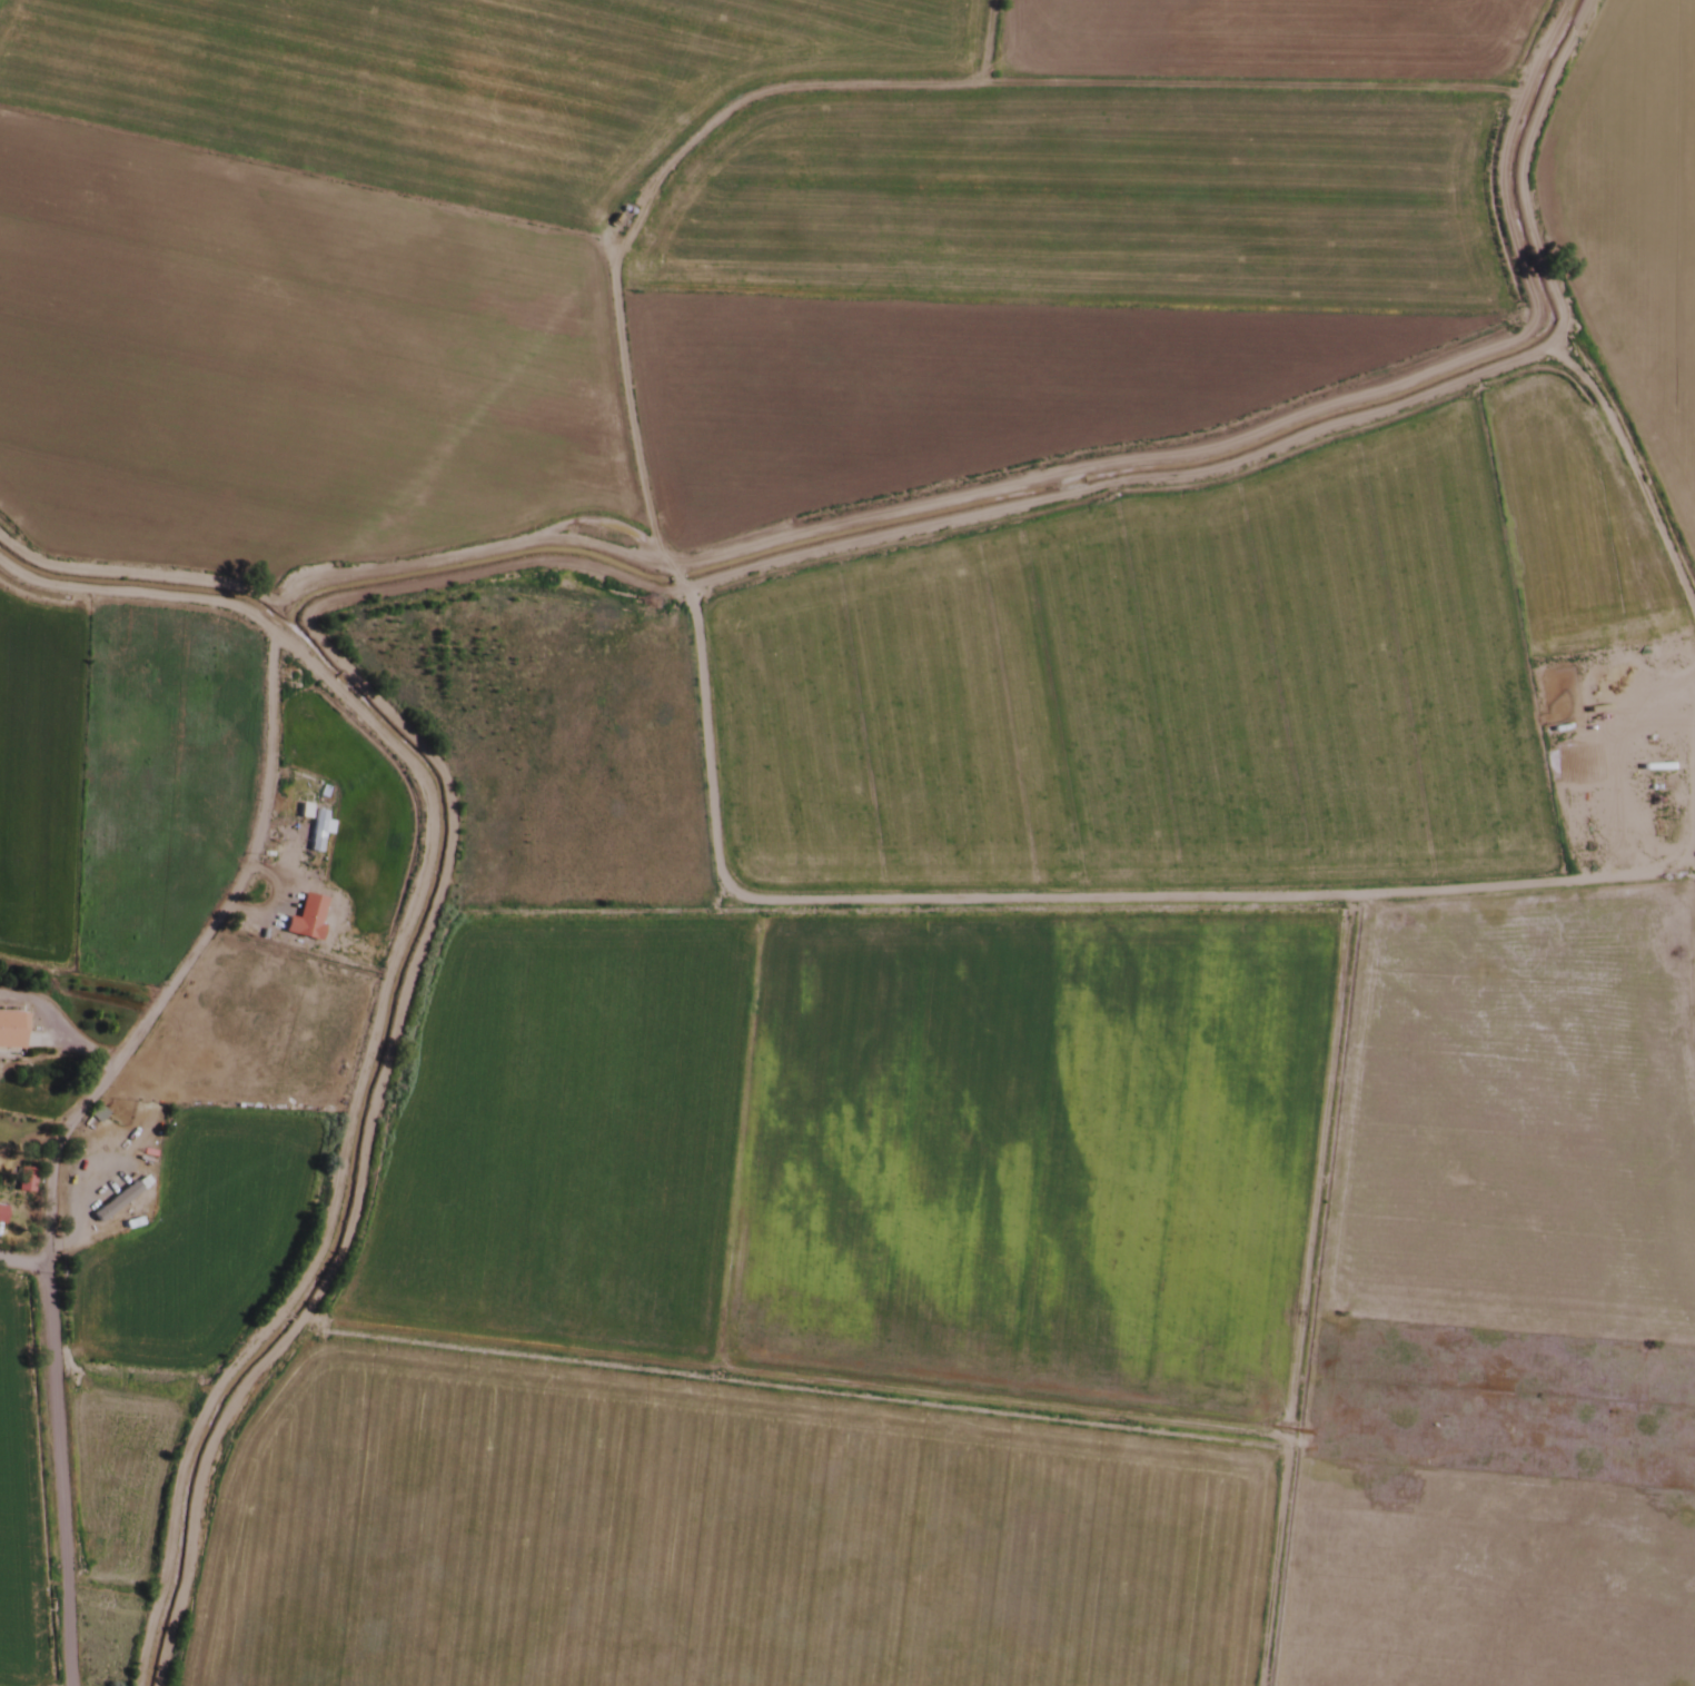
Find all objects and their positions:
building: (315, 831)
building: (304, 919)
building: (12, 1030)
building: (23, 1180)
building: (112, 1203)
building: (0, 1211)
road: (17, 1264)
road: (48, 1477)

